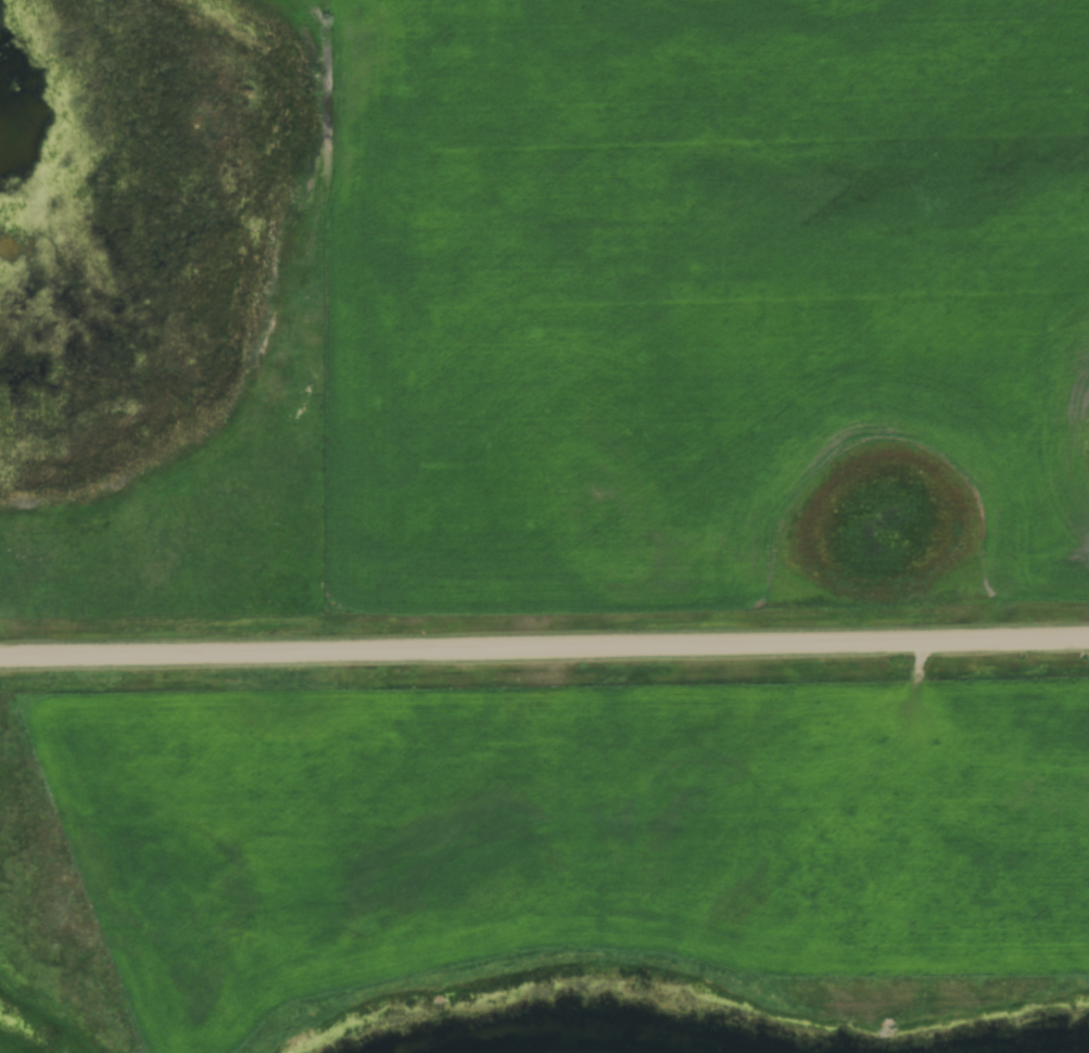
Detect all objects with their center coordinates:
road: (544, 648)

